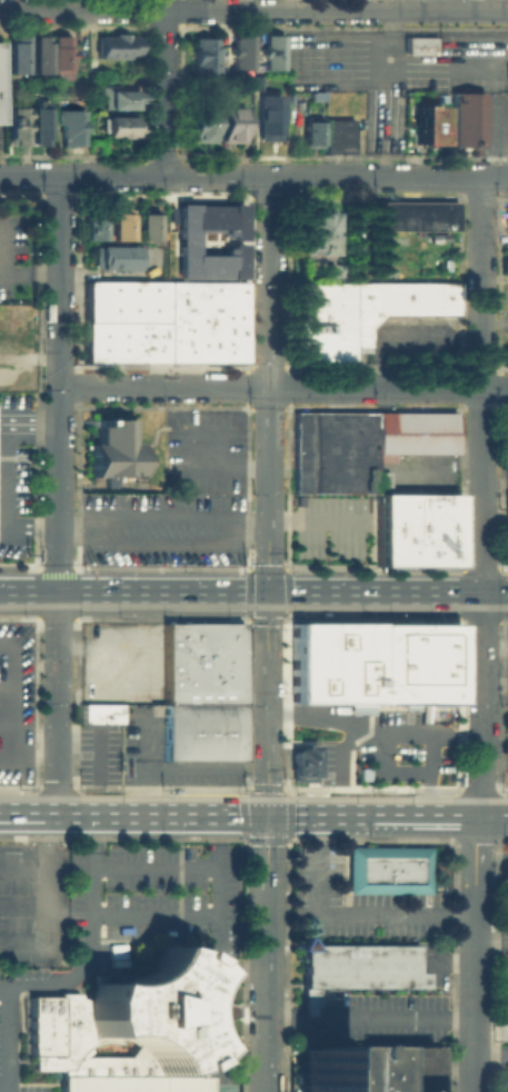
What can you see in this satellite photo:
road: (470, 4)
road: (253, 9)
building: (118, 47)
building: (420, 47)
building: (16, 53)
building: (241, 53)
building: (272, 53)
building: (39, 56)
building: (59, 57)
building: (203, 58)
building: (94, 62)
building: (505, 70)
building: (1, 87)
road: (163, 88)
building: (119, 98)
building: (269, 120)
building: (465, 120)
building: (41, 121)
building: (18, 125)
building: (426, 125)
building: (73, 126)
building: (122, 126)
building: (201, 127)
building: (233, 127)
building: (311, 136)
building: (339, 139)
road: (30, 176)
road: (111, 176)
road: (216, 176)
road: (388, 176)
building: (417, 216)
parking lot: (507, 222)
building: (94, 226)
building: (121, 227)
building: (149, 227)
building: (313, 237)
building: (183, 240)
parking lot: (12, 248)
building: (117, 257)
building: (10, 312)
building: (357, 315)
road: (492, 321)
building: (165, 324)
parking lot: (505, 329)
building: (9, 337)
parking lot: (412, 339)
building: (10, 376)
road: (58, 384)
road: (282, 387)
building: (415, 434)
road: (151, 437)
parking lot: (505, 447)
parking lot: (202, 450)
building: (112, 451)
building: (333, 454)
road: (220, 468)
parking lot: (415, 474)
road: (3, 475)
parking lot: (13, 476)
road: (477, 494)
road: (162, 515)
building: (505, 524)
parking lot: (161, 528)
building: (415, 528)
parking lot: (333, 529)
road: (3, 540)
road: (162, 543)
road: (28, 593)
traffic signals: (267, 594)
road: (282, 594)
road: (287, 602)
railway: (253, 606)
road: (457, 607)
road: (321, 612)
road: (287, 615)
railway: (291, 615)
road: (371, 618)
road: (276, 619)
road: (467, 619)
road: (267, 633)
parking lot: (119, 661)
building: (201, 662)
building: (330, 662)
building: (411, 662)
parking lot: (17, 702)
road: (17, 702)
road: (57, 703)
parking lot: (505, 708)
building: (101, 712)
road: (369, 713)
road: (8, 721)
building: (201, 729)
road: (370, 733)
parking lot: (408, 736)
road: (309, 743)
parking lot: (137, 748)
road: (339, 751)
road: (18, 762)
building: (300, 762)
road: (140, 766)
road: (385, 772)
road: (428, 773)
road: (64, 785)
railway: (235, 785)
road: (257, 785)
road: (155, 786)
road: (243, 786)
road: (240, 800)
railway: (253, 800)
road: (491, 811)
road: (28, 812)
road: (266, 813)
traffic signals: (267, 814)
road: (491, 856)
road: (177, 863)
building: (390, 874)
parking lot: (504, 874)
building: (505, 902)
road: (53, 906)
road: (101, 913)
parking lot: (103, 926)
road: (490, 943)
road: (475, 951)
parking lot: (436, 961)
road: (239, 967)
building: (358, 973)
road: (68, 975)
road: (208, 991)
parking lot: (505, 991)
road: (369, 1020)
building: (347, 1031)
road: (491, 1032)
building: (121, 1033)
road: (4, 1038)
road: (240, 1049)
road: (491, 1055)
building: (375, 1071)
parking lot: (506, 1071)
park: (219, 1086)

